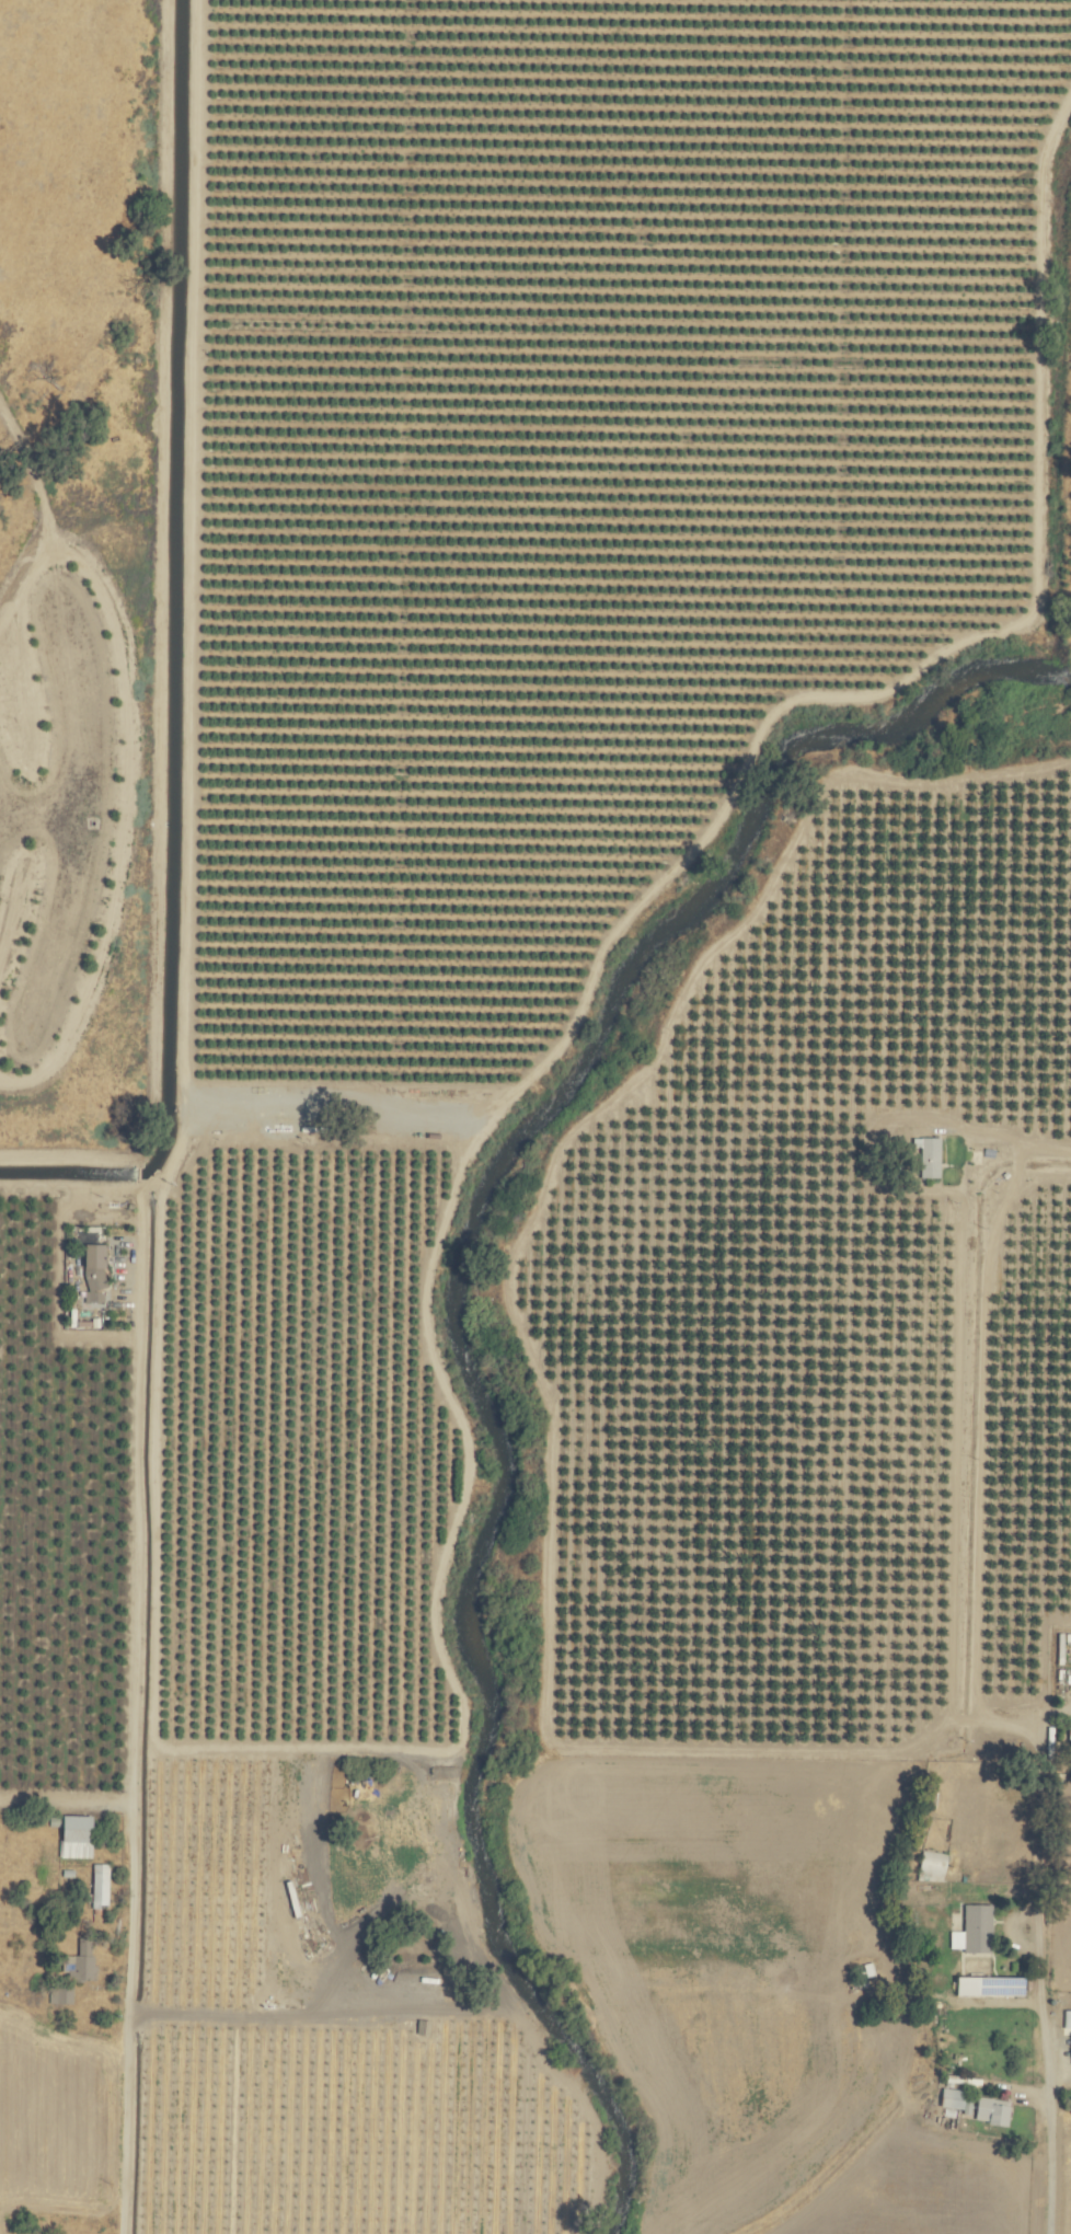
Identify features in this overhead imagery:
crop: (1062, 414)
crop: (10, 557)
crop: (82, 597)
building: (926, 1158)
crop: (574, 1165)
road: (1052, 1172)
building: (92, 1266)
building: (1068, 1732)
road: (127, 1737)
road: (62, 1803)
building: (72, 1838)
building: (931, 1865)
building: (99, 1886)
building: (975, 1928)
building: (79, 1961)
building: (986, 1985)
building: (1066, 2018)
road: (1047, 2069)
building: (949, 2098)
building: (989, 2111)

